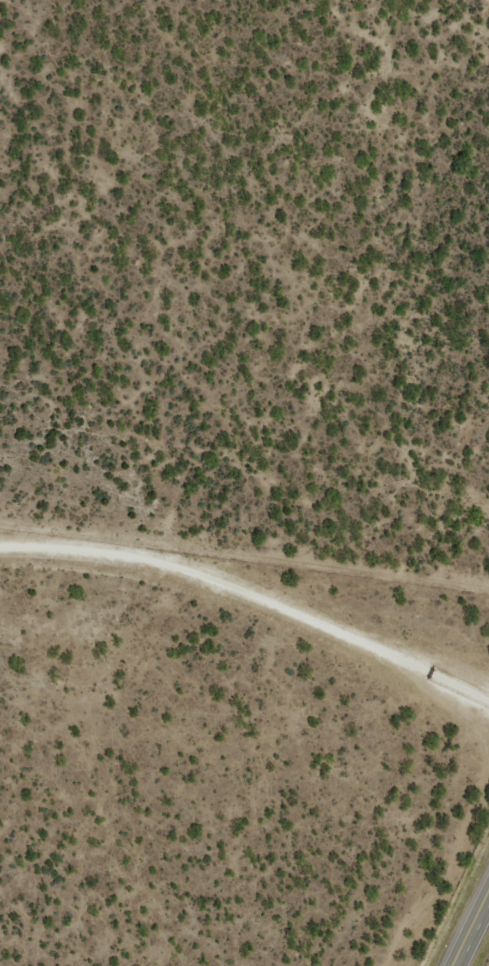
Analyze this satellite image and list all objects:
road: (475, 939)

